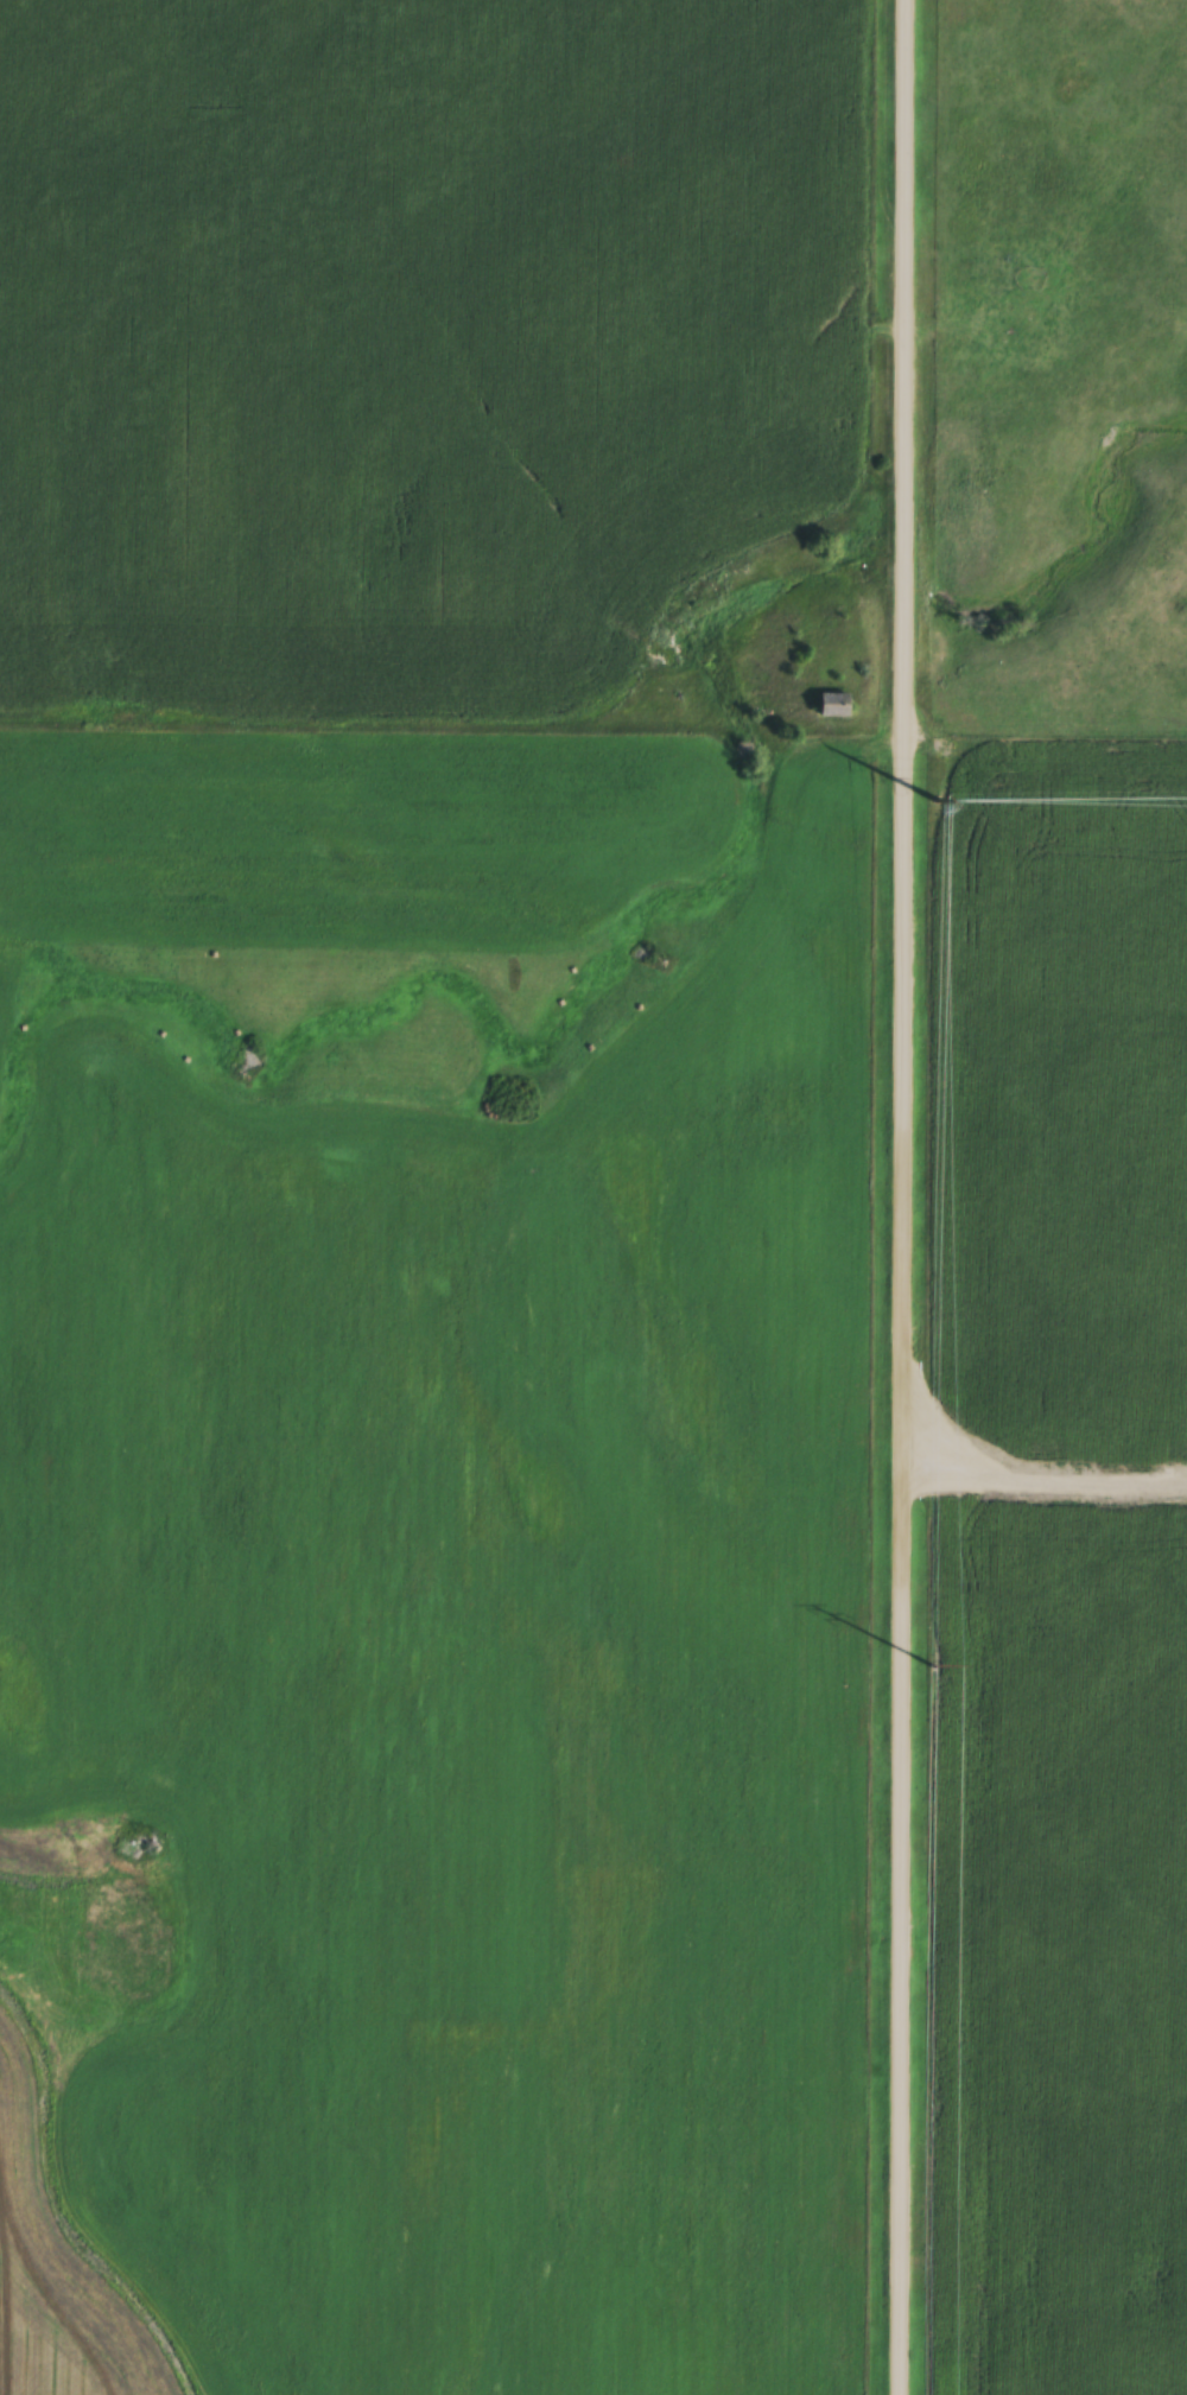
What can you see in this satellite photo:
building: (834, 710)
power tower: (939, 805)
road: (901, 1196)
power tower: (935, 1671)

